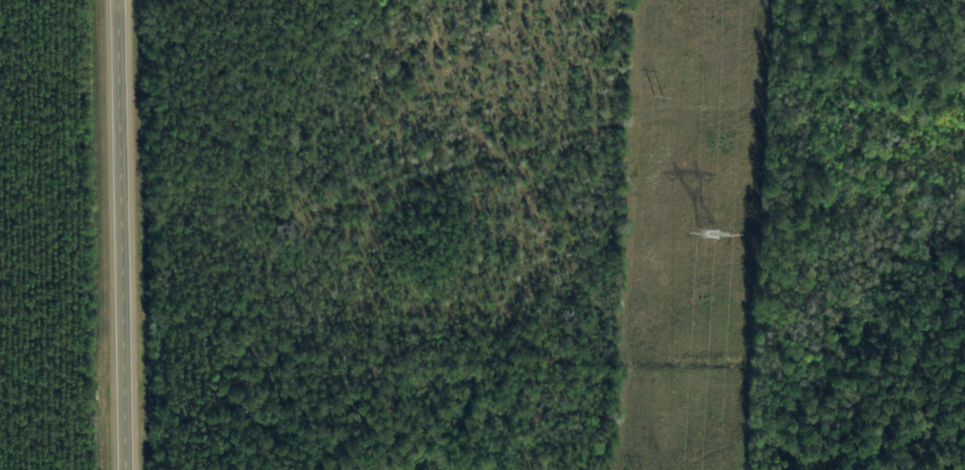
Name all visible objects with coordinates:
power tower: (700, 234)
road: (126, 235)

